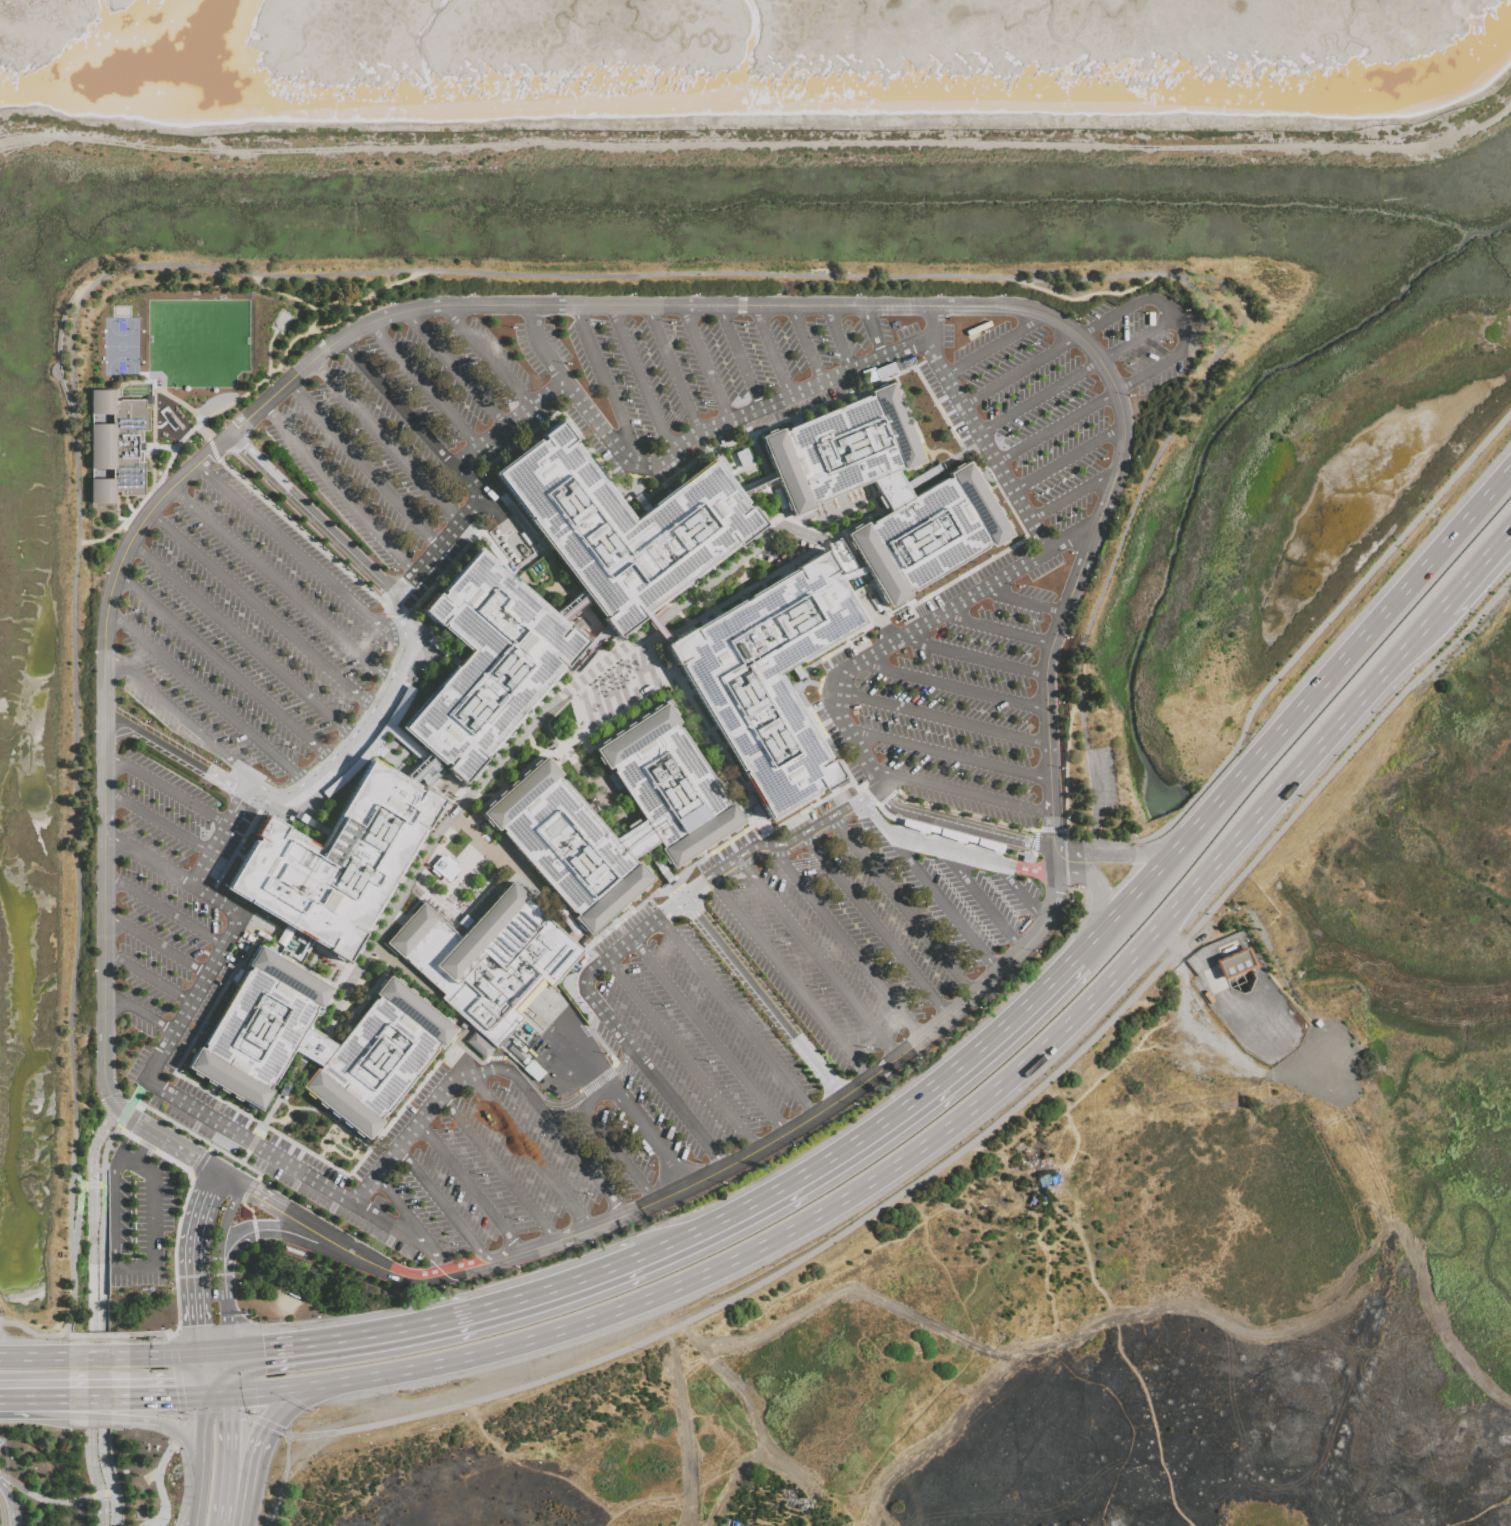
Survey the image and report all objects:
road: (760, 140)
road: (402, 269)
road: (1086, 293)
street lamp: (934, 295)
road: (1237, 295)
road: (292, 296)
street lamp: (999, 296)
road: (521, 306)
road: (1129, 307)
street lamp: (1185, 311)
street lamp: (1144, 313)
street lamp: (1073, 320)
street lamp: (669, 322)
street lamp: (597, 323)
street lamp: (742, 323)
road: (937, 325)
street lamp: (510, 326)
street lamp: (982, 332)
road: (302, 333)
road: (871, 333)
street lamp: (1108, 337)
parking lot: (1143, 337)
road: (837, 339)
park: (198, 341)
street lamp: (1167, 343)
street lamp: (1032, 344)
road: (805, 345)
park: (121, 346)
road: (997, 346)
road: (58, 347)
road: (543, 347)
parking lot: (539, 348)
road: (771, 352)
road: (490, 357)
road: (738, 357)
road: (704, 364)
street lamp: (1128, 365)
road: (673, 369)
road: (458, 370)
road: (1022, 371)
road: (1078, 375)
parking lot: (720, 379)
street lamp: (765, 379)
road: (641, 380)
street lamp: (970, 381)
road: (427, 386)
road: (608, 386)
road: (153, 390)
street lamp: (1128, 396)
street lamp: (742, 398)
road: (1106, 399)
street lamp: (1066, 401)
road: (400, 403)
road: (938, 409)
road: (910, 415)
road: (732, 420)
road: (513, 423)
road: (205, 430)
parking lot: (409, 437)
street lamp: (1006, 437)
road: (389, 443)
building: (116, 445)
road: (987, 449)
road: (212, 450)
road: (935, 450)
road: (962, 451)
road: (757, 454)
road: (145, 455)
street lamp: (1132, 457)
building: (739, 458)
road: (1067, 459)
street lamp: (1101, 459)
road: (689, 464)
road: (366, 466)
road: (727, 466)
road: (974, 468)
road: (161, 477)
road: (635, 480)
road: (472, 482)
building: (883, 491)
road: (339, 493)
street lamp: (1039, 494)
road: (1073, 496)
road: (317, 515)
street lamp: (1068, 515)
street lamp: (1110, 519)
road: (310, 522)
building: (623, 525)
road: (300, 531)
road: (1073, 537)
road: (98, 539)
road: (442, 548)
road: (496, 550)
street lamp: (1069, 553)
building: (840, 554)
road: (300, 555)
road: (444, 571)
road: (1478, 571)
road: (851, 575)
street lamp: (1088, 578)
road: (280, 586)
street lamp: (1017, 587)
parking lot: (978, 591)
road: (1022, 604)
road: (391, 606)
road: (572, 606)
road: (896, 608)
road: (951, 609)
road: (262, 611)
road: (417, 622)
road: (655, 625)
parking lot: (247, 631)
road: (996, 632)
street lamp: (1065, 637)
road: (648, 640)
road: (241, 641)
road: (586, 647)
road: (445, 648)
road: (1305, 648)
street lamp: (1023, 655)
road: (974, 659)
building: (486, 661)
road: (224, 668)
building: (768, 676)
road: (820, 685)
road: (955, 687)
road: (572, 691)
road: (206, 697)
street lamp: (1057, 703)
road: (548, 705)
road: (577, 707)
street lamp: (871, 716)
road: (1295, 717)
road: (185, 719)
road: (943, 720)
street lamp: (888, 721)
street lamp: (1020, 722)
road: (701, 725)
street lamp: (905, 725)
road: (360, 726)
road: (574, 726)
street lamp: (924, 729)
road: (848, 730)
street lamp: (943, 735)
street lamp: (285, 742)
road: (556, 747)
road: (178, 752)
road: (949, 756)
road: (1065, 765)
road: (421, 769)
street lamp: (1059, 769)
road: (517, 775)
parking lot: (1100, 778)
road: (329, 782)
street lamp: (128, 786)
road: (169, 789)
street lamp: (1022, 791)
road: (961, 794)
road: (870, 796)
road: (886, 798)
road: (1092, 803)
road: (808, 806)
road: (963, 813)
road: (877, 817)
street lamp: (1062, 818)
building: (540, 819)
street lamp: (190, 822)
road: (832, 822)
road: (967, 822)
road: (161, 823)
road: (962, 829)
road: (1050, 830)
road: (1052, 833)
road: (953, 834)
road: (769, 836)
street lamp: (201, 837)
road: (222, 840)
road: (1034, 842)
road: (939, 846)
road: (492, 850)
road: (1064, 852)
road: (1083, 855)
road: (1134, 857)
building: (334, 859)
road: (745, 859)
road: (151, 860)
building: (443, 867)
street lamp: (185, 869)
road: (1025, 870)
road: (462, 872)
street lamp: (970, 872)
street lamp: (137, 876)
street lamp: (211, 880)
road: (1054, 888)
street lamp: (1075, 888)
road: (1097, 889)
road: (1018, 893)
road: (434, 895)
street lamp: (999, 896)
road: (979, 899)
road: (685, 900)
road: (219, 901)
road: (944, 903)
road: (905, 908)
street lamp: (198, 911)
road: (166, 914)
parking lot: (866, 921)
road: (612, 925)
road: (880, 927)
road: (633, 941)
road: (264, 942)
street lamp: (783, 943)
road: (852, 945)
road: (1182, 950)
street lamp: (1034, 952)
street lamp: (146, 957)
road: (242, 958)
building: (486, 958)
road: (821, 960)
building: (1233, 963)
road: (412, 978)
road: (792, 980)
road: (150, 982)
park: (363, 983)
street lamp: (818, 987)
park: (421, 996)
road: (197, 998)
road: (763, 1000)
road: (593, 1001)
street lamp: (662, 1005)
street lamp: (975, 1008)
road: (141, 1016)
park: (340, 1016)
road: (738, 1018)
park: (317, 1029)
park: (336, 1033)
road: (462, 1034)
road: (711, 1038)
building: (316, 1041)
building: (477, 1044)
street lamp: (865, 1048)
road: (623, 1056)
road: (683, 1056)
street lamp: (914, 1058)
parking lot: (448, 1059)
street lamp: (706, 1061)
road: (616, 1069)
road: (520, 1070)
street lamp: (178, 1071)
road: (514, 1071)
road: (598, 1082)
street lamp: (503, 1090)
road: (139, 1091)
road: (278, 1094)
street lamp: (125, 1099)
street lamp: (851, 1104)
road: (676, 1107)
road: (633, 1111)
road: (122, 1115)
road: (286, 1115)
road: (131, 1117)
road: (332, 1119)
street lamp: (752, 1119)
road: (421, 1123)
road: (952, 1126)
street lamp: (171, 1127)
road: (877, 1129)
street lamp: (445, 1131)
road: (278, 1133)
street lamp: (538, 1134)
road: (199, 1138)
road: (568, 1141)
road: (251, 1143)
road: (252, 1143)
road: (611, 1143)
road: (332, 1144)
street lamp: (788, 1146)
road: (209, 1147)
road: (177, 1148)
road: (348, 1150)
road: (145, 1152)
street lamp: (212, 1153)
road: (532, 1153)
road: (103, 1155)
road: (243, 1158)
road: (199, 1162)
street lamp: (648, 1165)
road: (940, 1169)
road: (500, 1170)
street lamp: (481, 1175)
road: (711, 1177)
road: (76, 1179)
road: (232, 1179)
road: (359, 1180)
street lamp: (264, 1183)
street lamp: (720, 1183)
street lamp: (404, 1184)
road: (82, 1186)
road: (91, 1187)
road: (100, 1187)
road: (473, 1188)
road: (247, 1189)
street lamp: (585, 1193)
road: (237, 1199)
road: (266, 1199)
road: (444, 1206)
street lamp: (304, 1207)
road: (247, 1208)
street lamp: (219, 1209)
road: (179, 1211)
street lamp: (659, 1212)
road: (201, 1214)
road: (407, 1214)
parking lot: (137, 1217)
street lamp: (515, 1220)
road: (75, 1223)
road: (305, 1223)
road: (254, 1227)
road: (395, 1229)
street lamp: (349, 1234)
road: (293, 1237)
street lamp: (587, 1242)
road: (224, 1243)
street lamp: (450, 1244)
road: (234, 1249)
street lamp: (460, 1258)
street lamp: (211, 1259)
road: (443, 1263)
street lamp: (399, 1264)
street lamp: (513, 1267)
road: (125, 1270)
road: (196, 1277)
road: (226, 1285)
street lamp: (438, 1287)
road: (212, 1296)
road: (71, 1299)
road: (94, 1314)
street lamp: (214, 1314)
street lamp: (252, 1316)
street lamp: (278, 1319)
road: (444, 1320)
street lamp: (263, 1321)
street lamp: (258, 1322)
traffic signals: (199, 1324)
road: (230, 1324)
road: (199, 1326)
road: (31, 1332)
road: (102, 1337)
road: (68, 1338)
traffic signals: (262, 1349)
road: (217, 1354)
road: (167, 1356)
road: (177, 1356)
road: (101, 1357)
road: (101, 1357)
road: (35, 1358)
road: (233, 1375)
road: (204, 1376)
road: (265, 1393)
street lamp: (401, 1393)
road: (220, 1397)
road: (194, 1398)
road: (157, 1399)
traffic signals: (175, 1399)
road: (101, 1400)
road: (35, 1401)
road: (280, 1405)
road: (100, 1409)
traffic signals: (234, 1419)
traffic signals: (174, 1426)
traffic signals: (263, 1427)
road: (180, 1430)
road: (206, 1437)
road: (234, 1443)
road: (251, 1457)
park: (44, 1458)
park: (135, 1471)
road: (159, 1475)
road: (282, 1481)
park: (173, 1486)
road: (110, 1490)
road: (6, 1494)
road: (96, 1494)
road: (40, 1495)
road: (201, 1501)
street lamp: (178, 1502)
road: (226, 1507)
park: (53, 1512)
road: (2, 1513)
road: (49, 1513)
road: (14, 1515)
road: (162, 1518)

